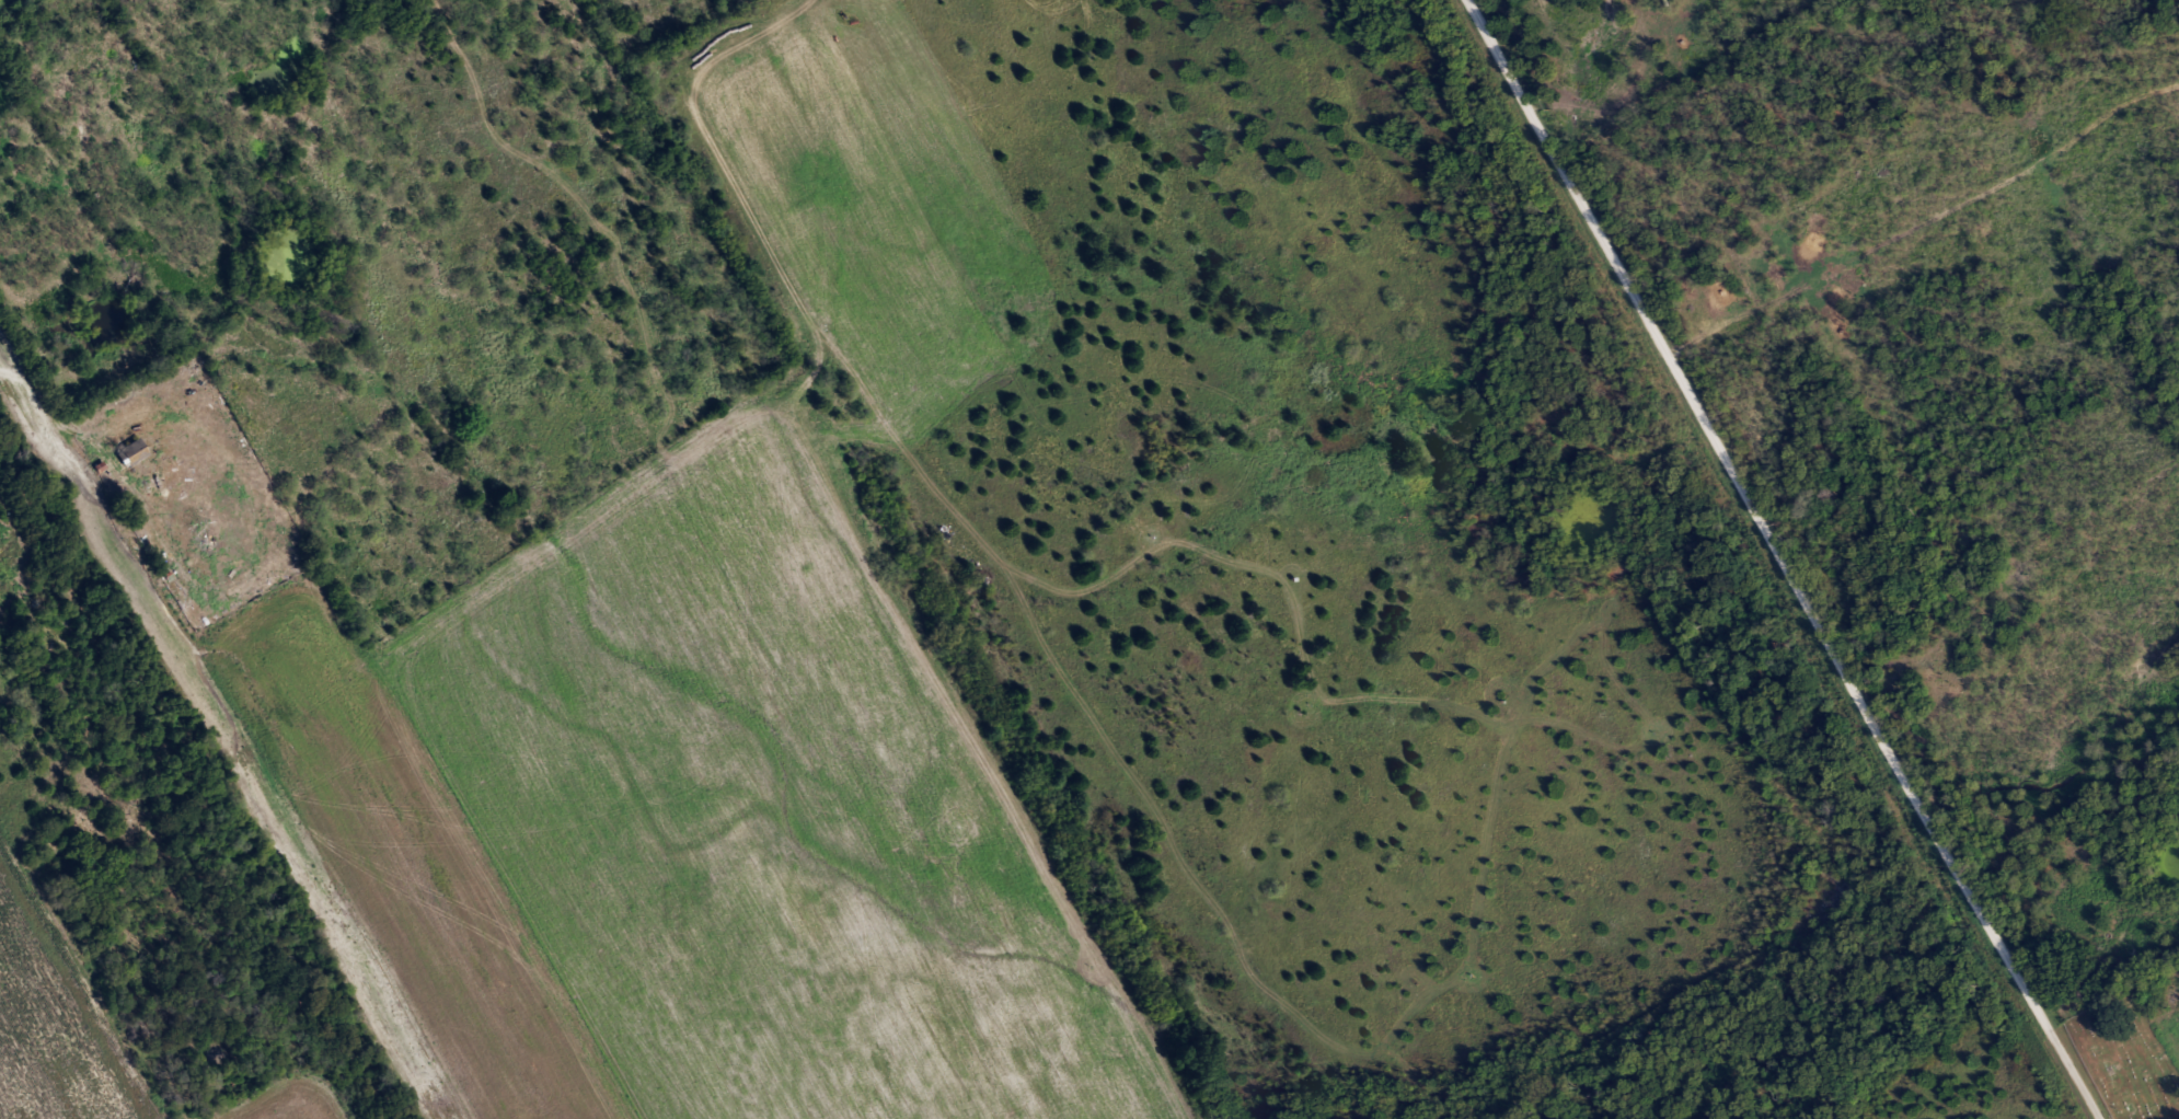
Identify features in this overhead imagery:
road: (54, 418)
building: (131, 453)
road: (14, 533)
road: (1782, 559)
park: (2125, 1057)

